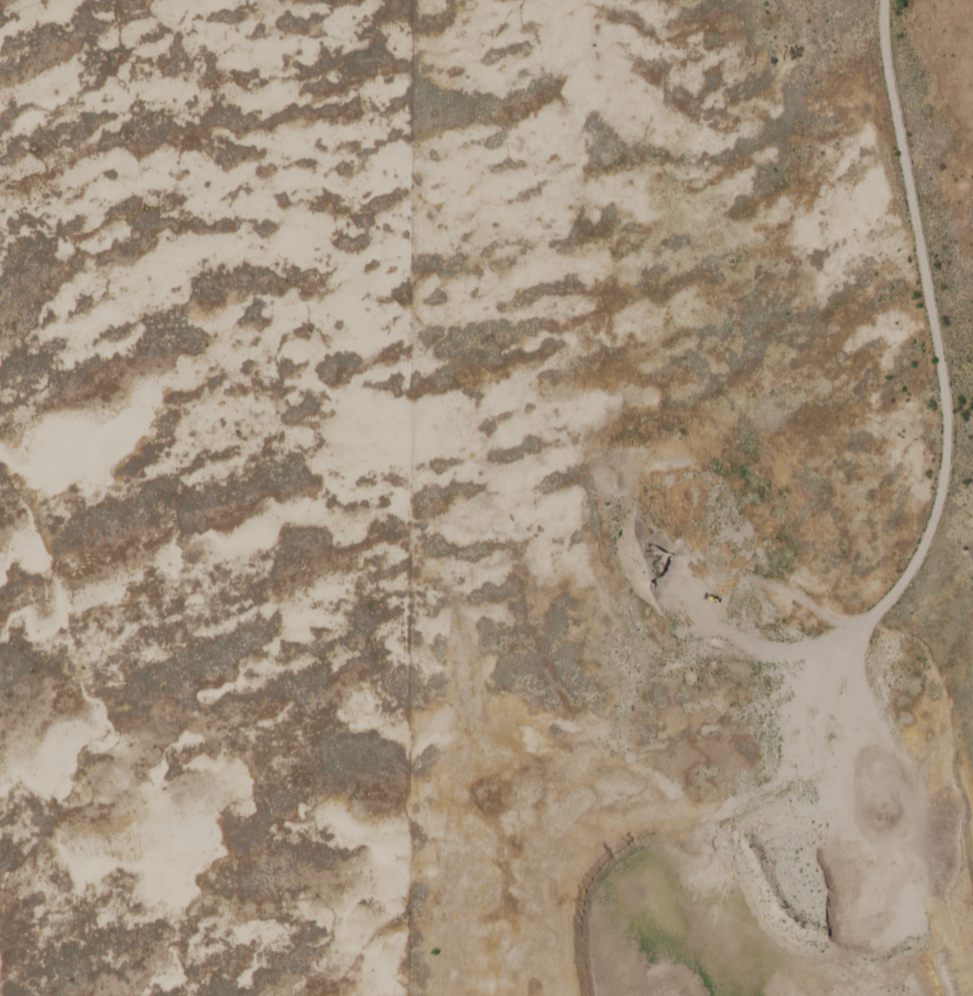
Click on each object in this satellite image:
road: (931, 309)

